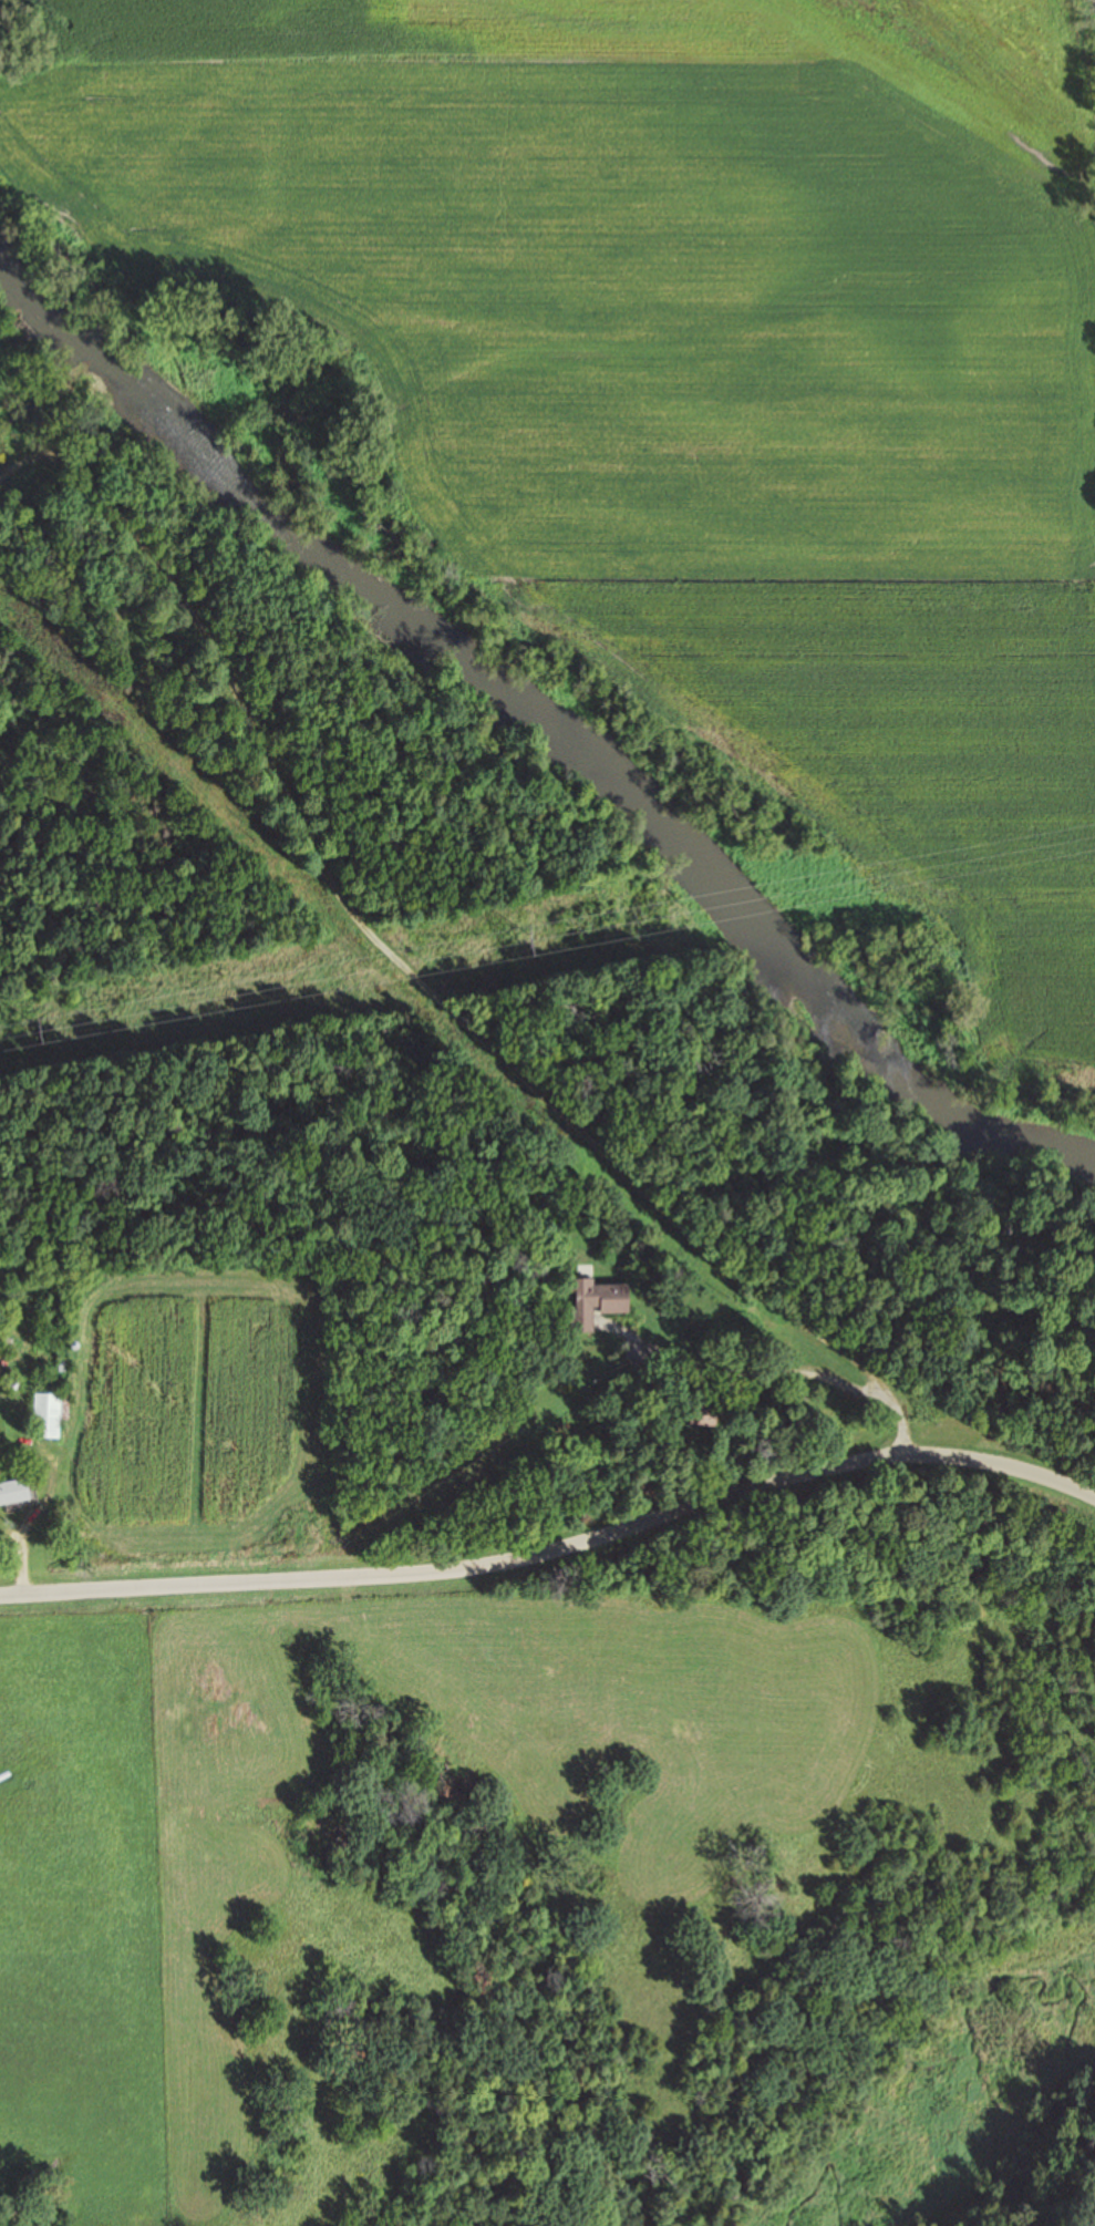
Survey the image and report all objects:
river: (534, 746)
road: (451, 913)
power tower: (527, 937)
power tower: (35, 1027)
building: (592, 1301)
building: (44, 1415)
building: (699, 1415)
building: (16, 1492)
road: (557, 1532)

